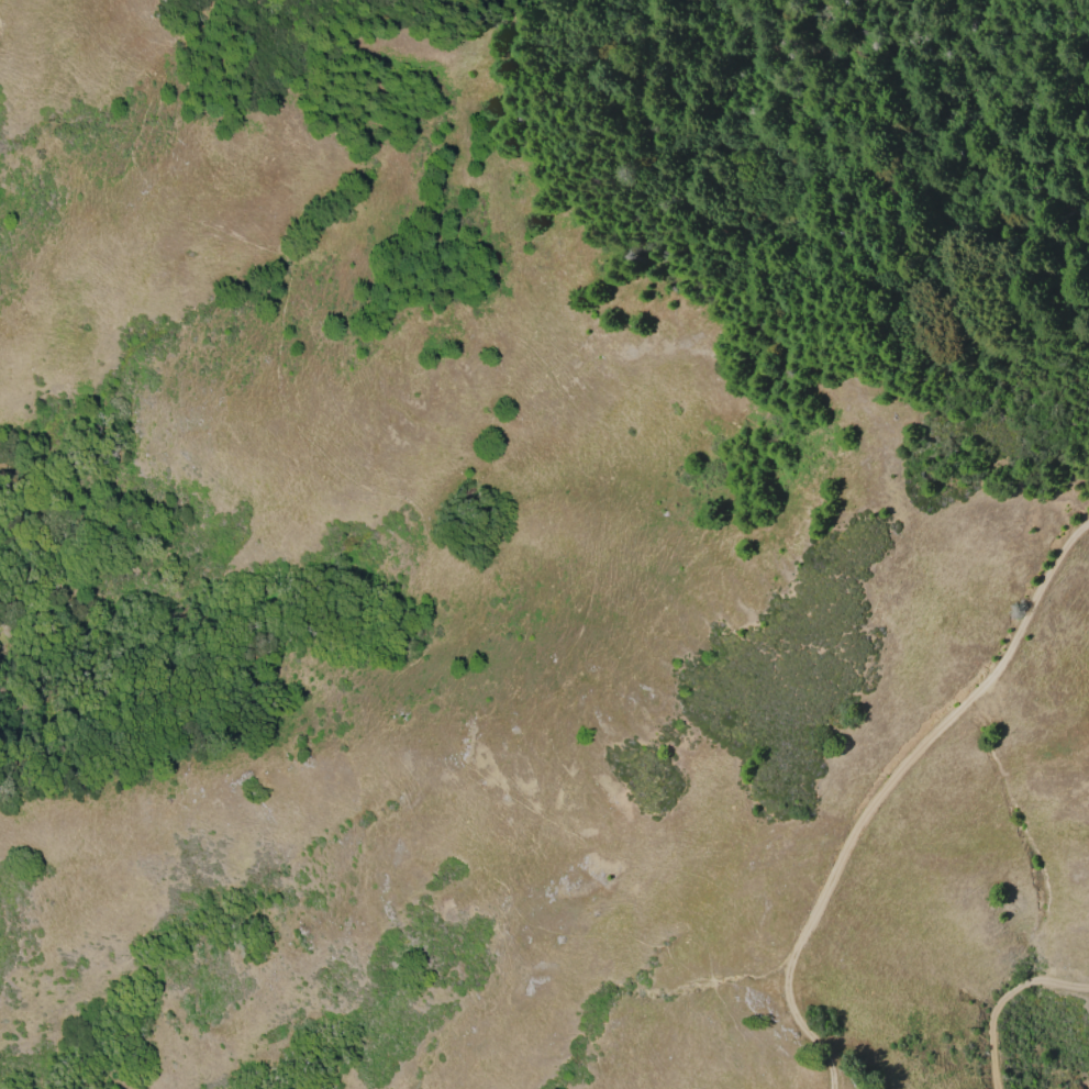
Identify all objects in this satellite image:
road: (770, 208)
road: (886, 793)
road: (1004, 1000)

